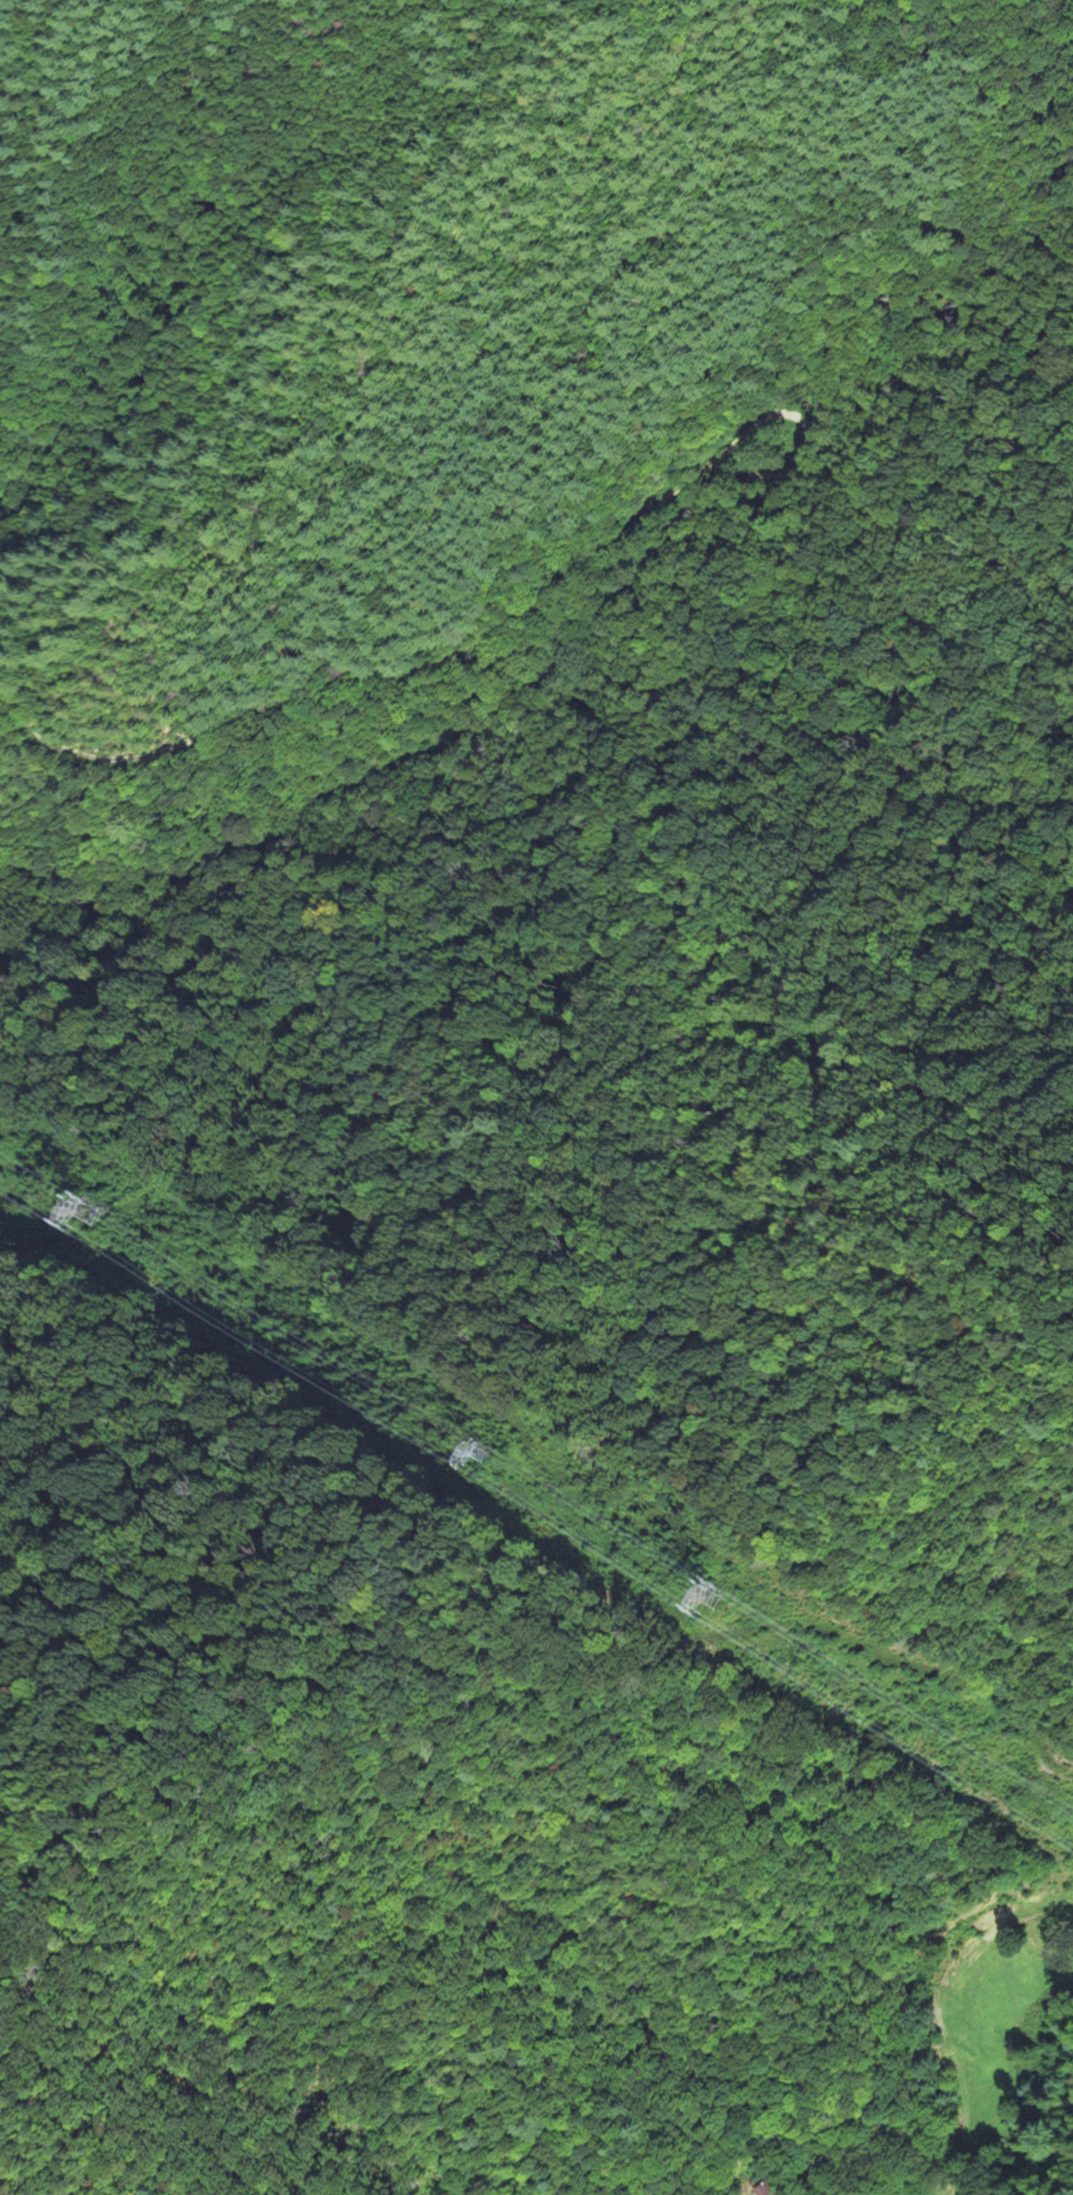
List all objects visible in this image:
power tower: (98, 1209)
power tower: (715, 1592)
building: (768, 2189)

